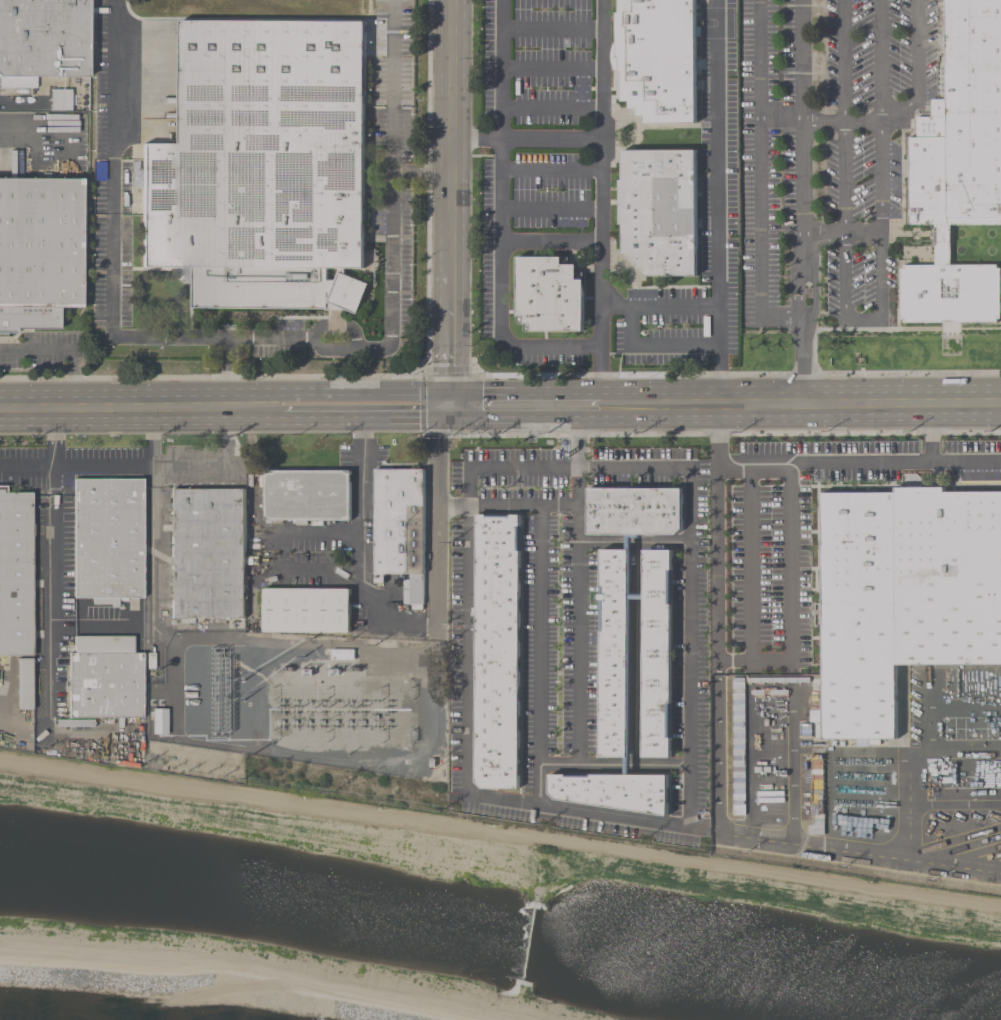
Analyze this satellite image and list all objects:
building: (44, 38)
building: (657, 57)
road: (881, 59)
road: (779, 118)
road: (822, 120)
road: (862, 120)
road: (449, 137)
road: (43, 138)
road: (525, 139)
building: (262, 167)
building: (957, 170)
road: (758, 178)
road: (600, 195)
road: (717, 202)
road: (801, 203)
building: (659, 211)
road: (499, 219)
road: (840, 232)
building: (39, 251)
road: (843, 281)
building: (549, 294)
road: (659, 307)
road: (259, 337)
road: (447, 344)
road: (67, 350)
road: (226, 372)
road: (353, 391)
road: (522, 391)
road: (244, 399)
road: (623, 400)
road: (871, 405)
road: (729, 406)
road: (682, 407)
road: (113, 410)
road: (248, 412)
road: (622, 412)
road: (519, 415)
road: (354, 416)
road: (928, 433)
road: (827, 462)
road: (26, 466)
road: (132, 466)
road: (221, 466)
road: (361, 468)
building: (306, 496)
road: (506, 506)
building: (634, 511)
road: (436, 523)
building: (399, 526)
building: (107, 539)
building: (207, 553)
road: (749, 563)
road: (52, 571)
road: (718, 571)
building: (15, 572)
road: (364, 593)
building: (904, 595)
road: (791, 596)
building: (305, 611)
road: (153, 622)
road: (91, 626)
road: (542, 635)
building: (496, 651)
building: (656, 653)
building: (320, 654)
building: (614, 654)
road: (690, 669)
building: (105, 678)
building: (24, 683)
power substation: (350, 704)
building: (194, 706)
building: (607, 791)
road: (498, 801)
road: (782, 837)

